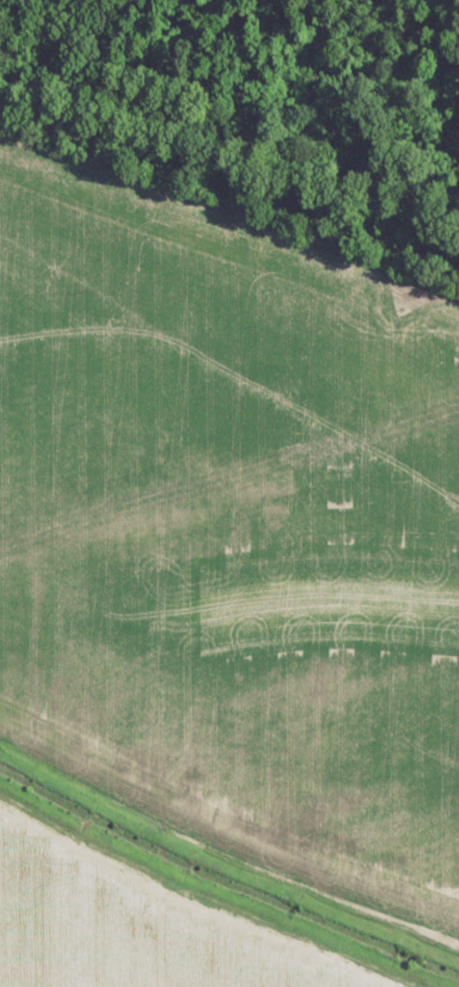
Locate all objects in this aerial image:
road: (330, 598)

